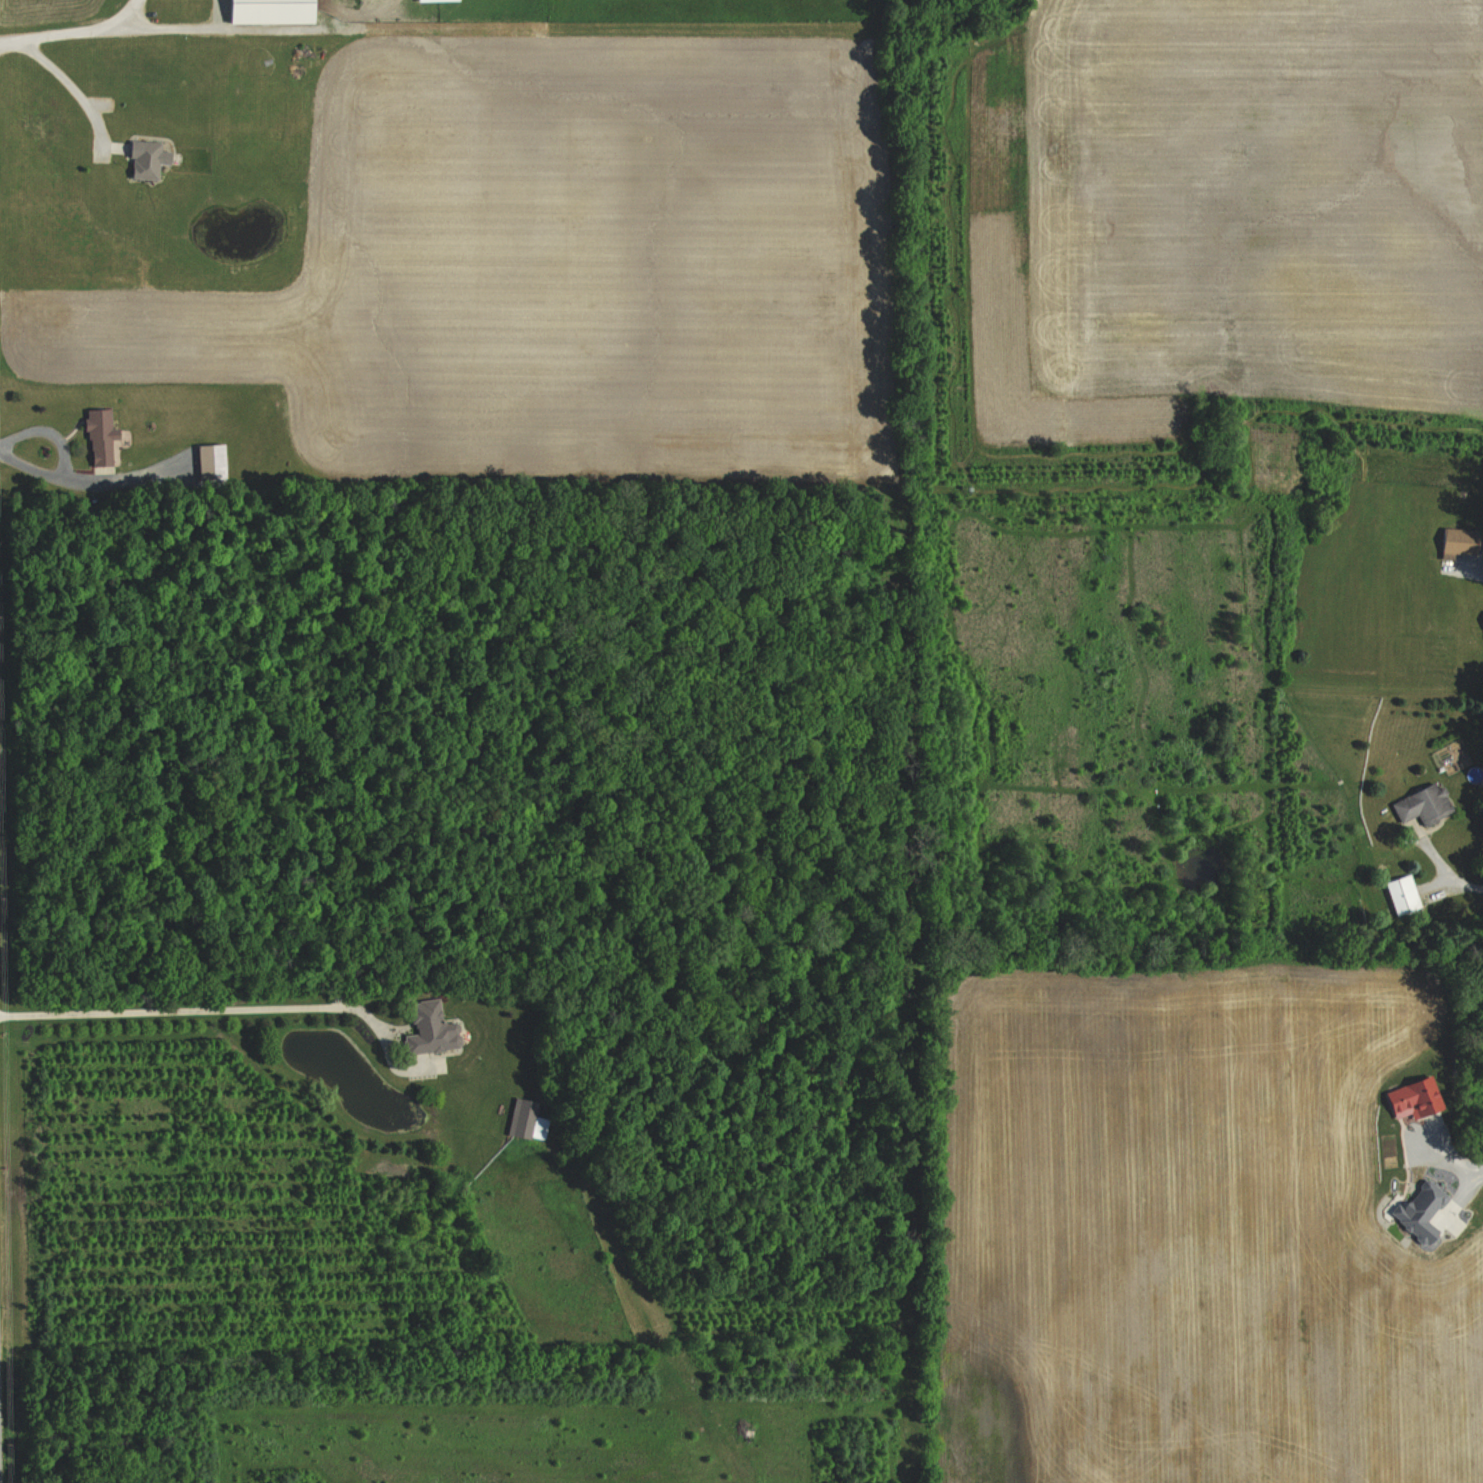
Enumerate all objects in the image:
building: (438, 1)
building: (274, 12)
road: (128, 17)
road: (108, 33)
road: (73, 88)
building: (148, 159)
building: (102, 437)
building: (214, 463)
road: (87, 480)
building: (1480, 619)
building: (1418, 803)
road: (1448, 874)
building: (1396, 894)
road: (230, 1003)
building: (432, 1028)
building: (1406, 1098)
building: (522, 1117)

